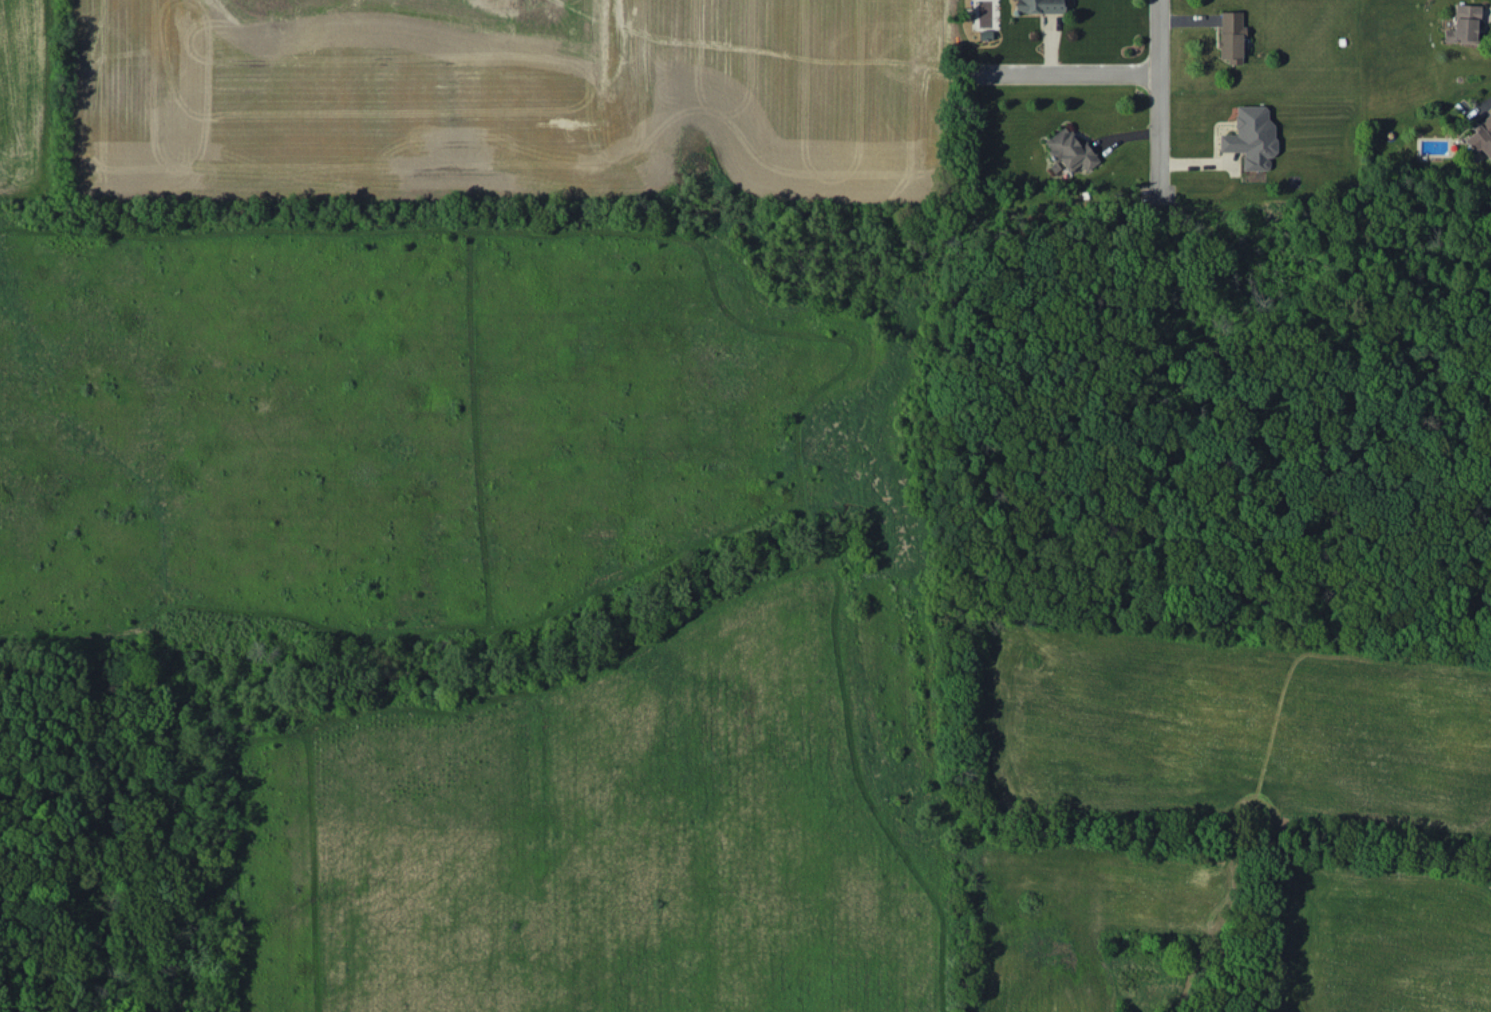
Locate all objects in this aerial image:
road: (1167, 0)
building: (1040, 6)
building: (1464, 24)
building: (1231, 36)
road: (1053, 37)
road: (1158, 72)
road: (1064, 73)
road: (1479, 107)
building: (1251, 136)
building: (1480, 137)
building: (1071, 150)

